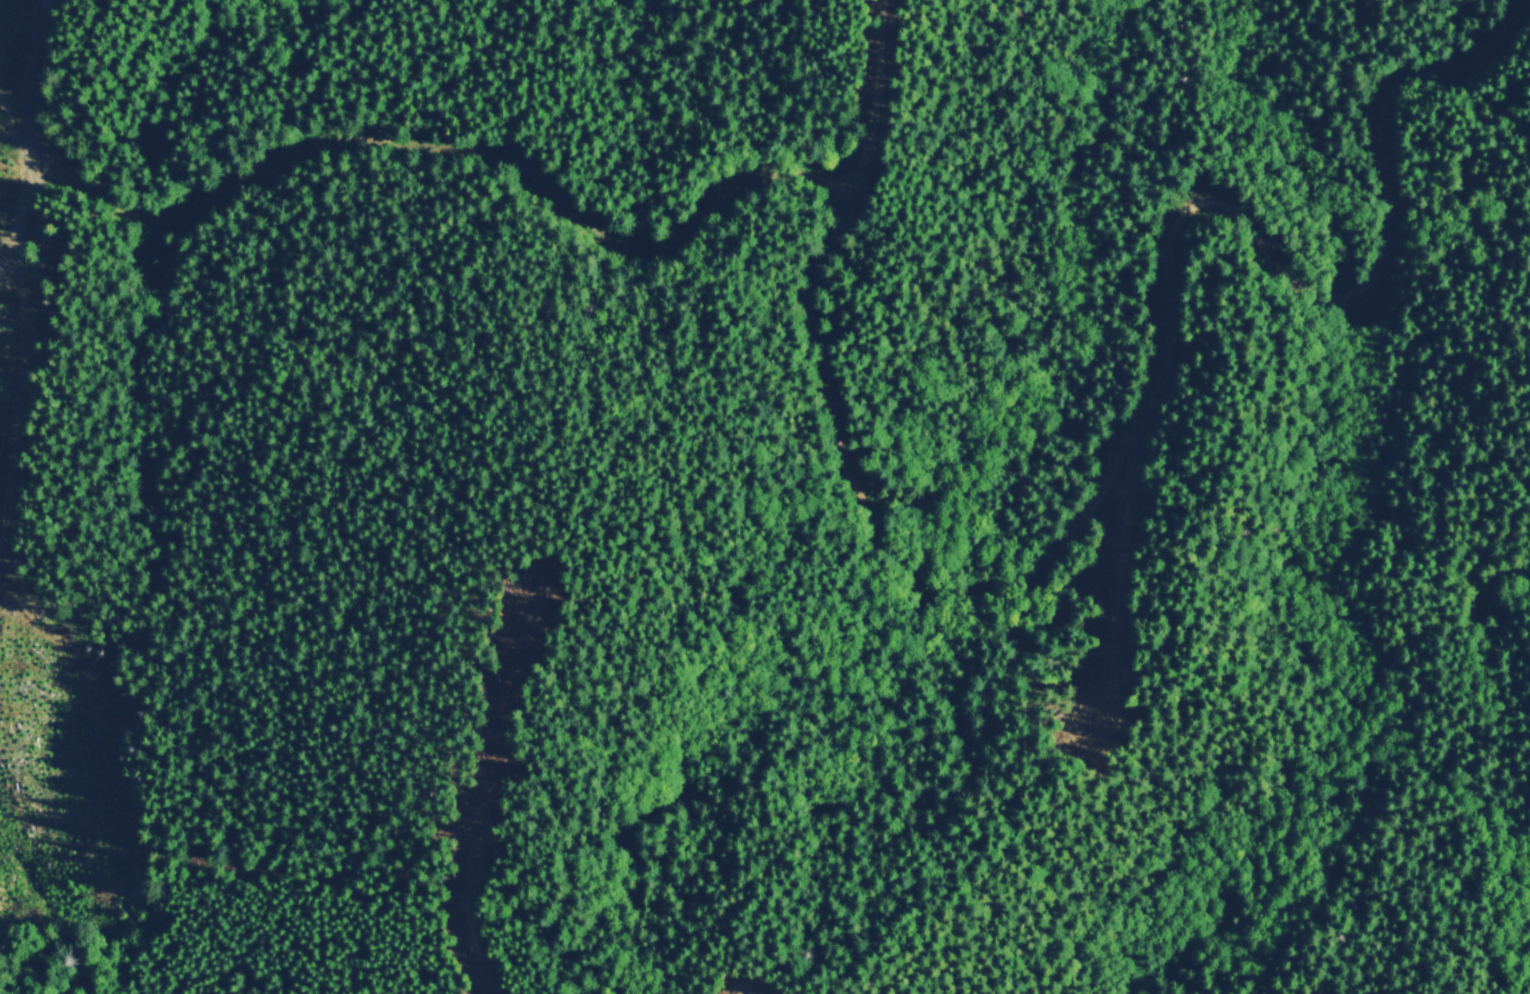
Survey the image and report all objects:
road: (1058, 524)

